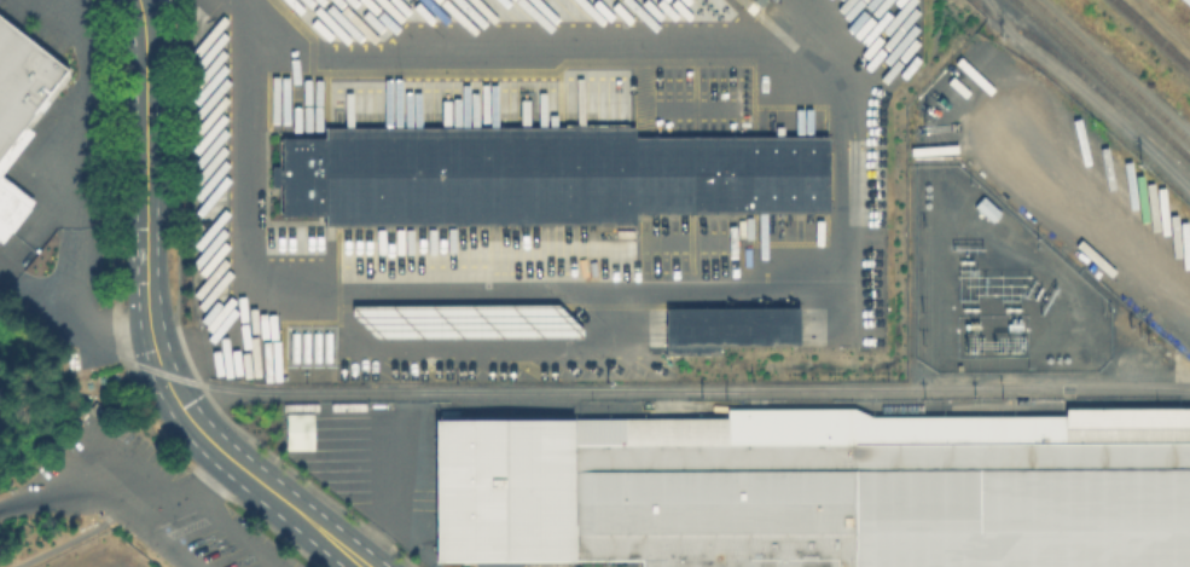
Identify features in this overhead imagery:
building: (1186, 2)
railway: (1153, 33)
railway: (1111, 69)
building: (23, 76)
railway: (1103, 77)
railway: (1089, 81)
road: (1087, 94)
road: (83, 111)
building: (546, 177)
building: (11, 207)
road: (240, 209)
road: (146, 243)
road: (77, 272)
road: (5, 274)
road: (683, 282)
power substation: (994, 287)
road: (77, 318)
building: (465, 320)
building: (731, 331)
building: (297, 430)
road: (135, 465)
road: (209, 479)
building: (819, 490)
pier: (5, 491)
road: (105, 502)
road: (161, 510)
road: (300, 514)
road: (234, 531)
road: (70, 539)
road: (608, 566)

